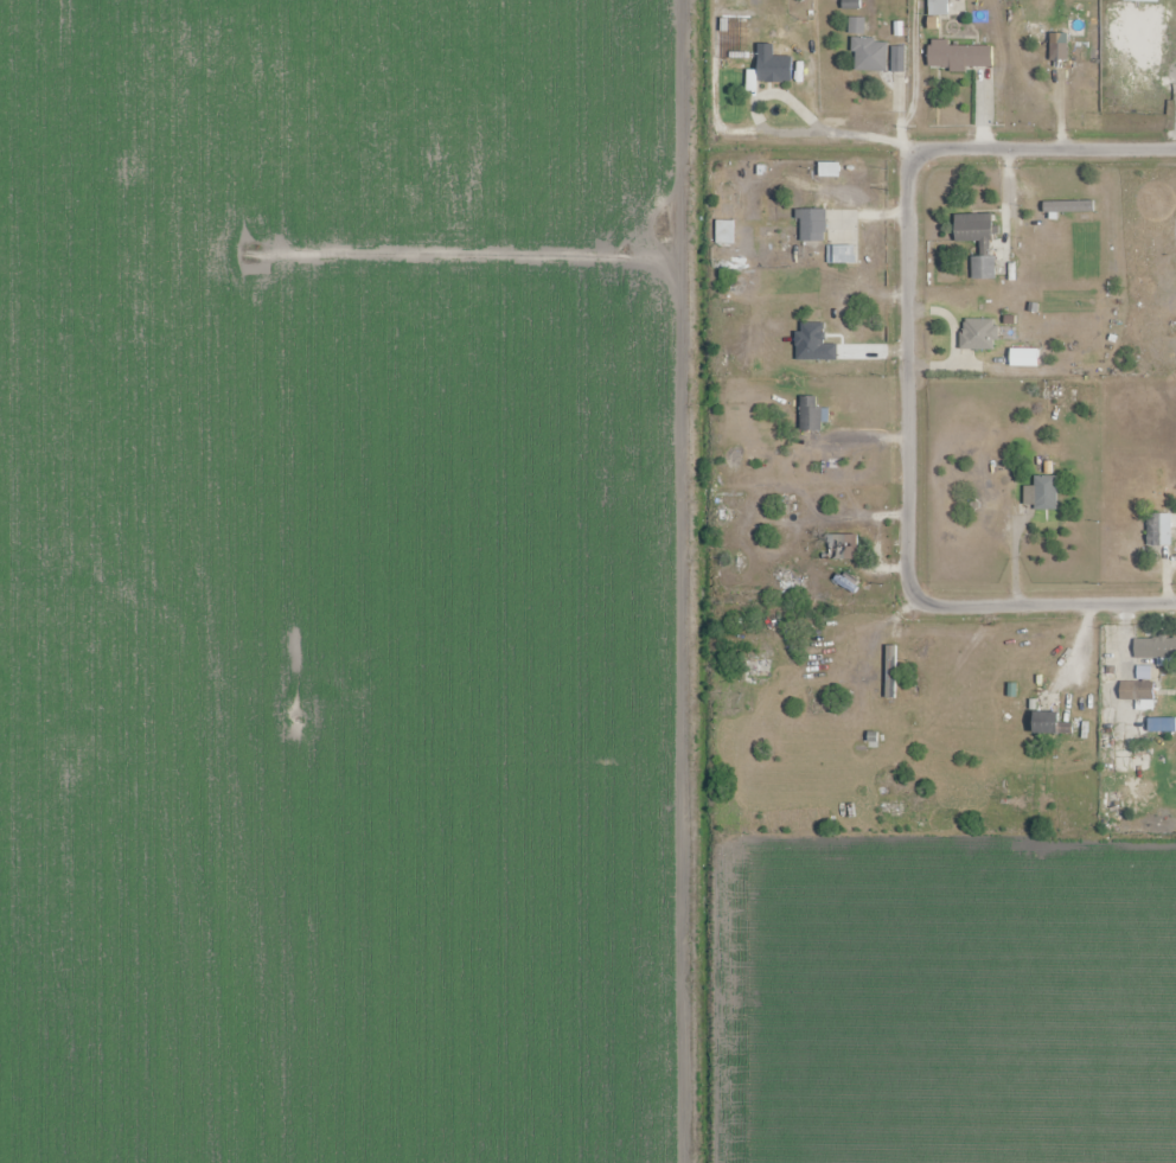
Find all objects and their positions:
building: (938, 7)
building: (857, 26)
building: (1055, 30)
building: (870, 55)
building: (960, 57)
building: (773, 65)
road: (790, 133)
road: (1043, 149)
building: (1067, 224)
building: (813, 225)
building: (977, 242)
building: (842, 255)
building: (963, 339)
road: (908, 377)
building: (1042, 485)
building: (1159, 530)
building: (841, 548)
road: (1042, 606)
building: (1155, 647)
building: (1137, 691)
building: (953, 704)
building: (1046, 723)

